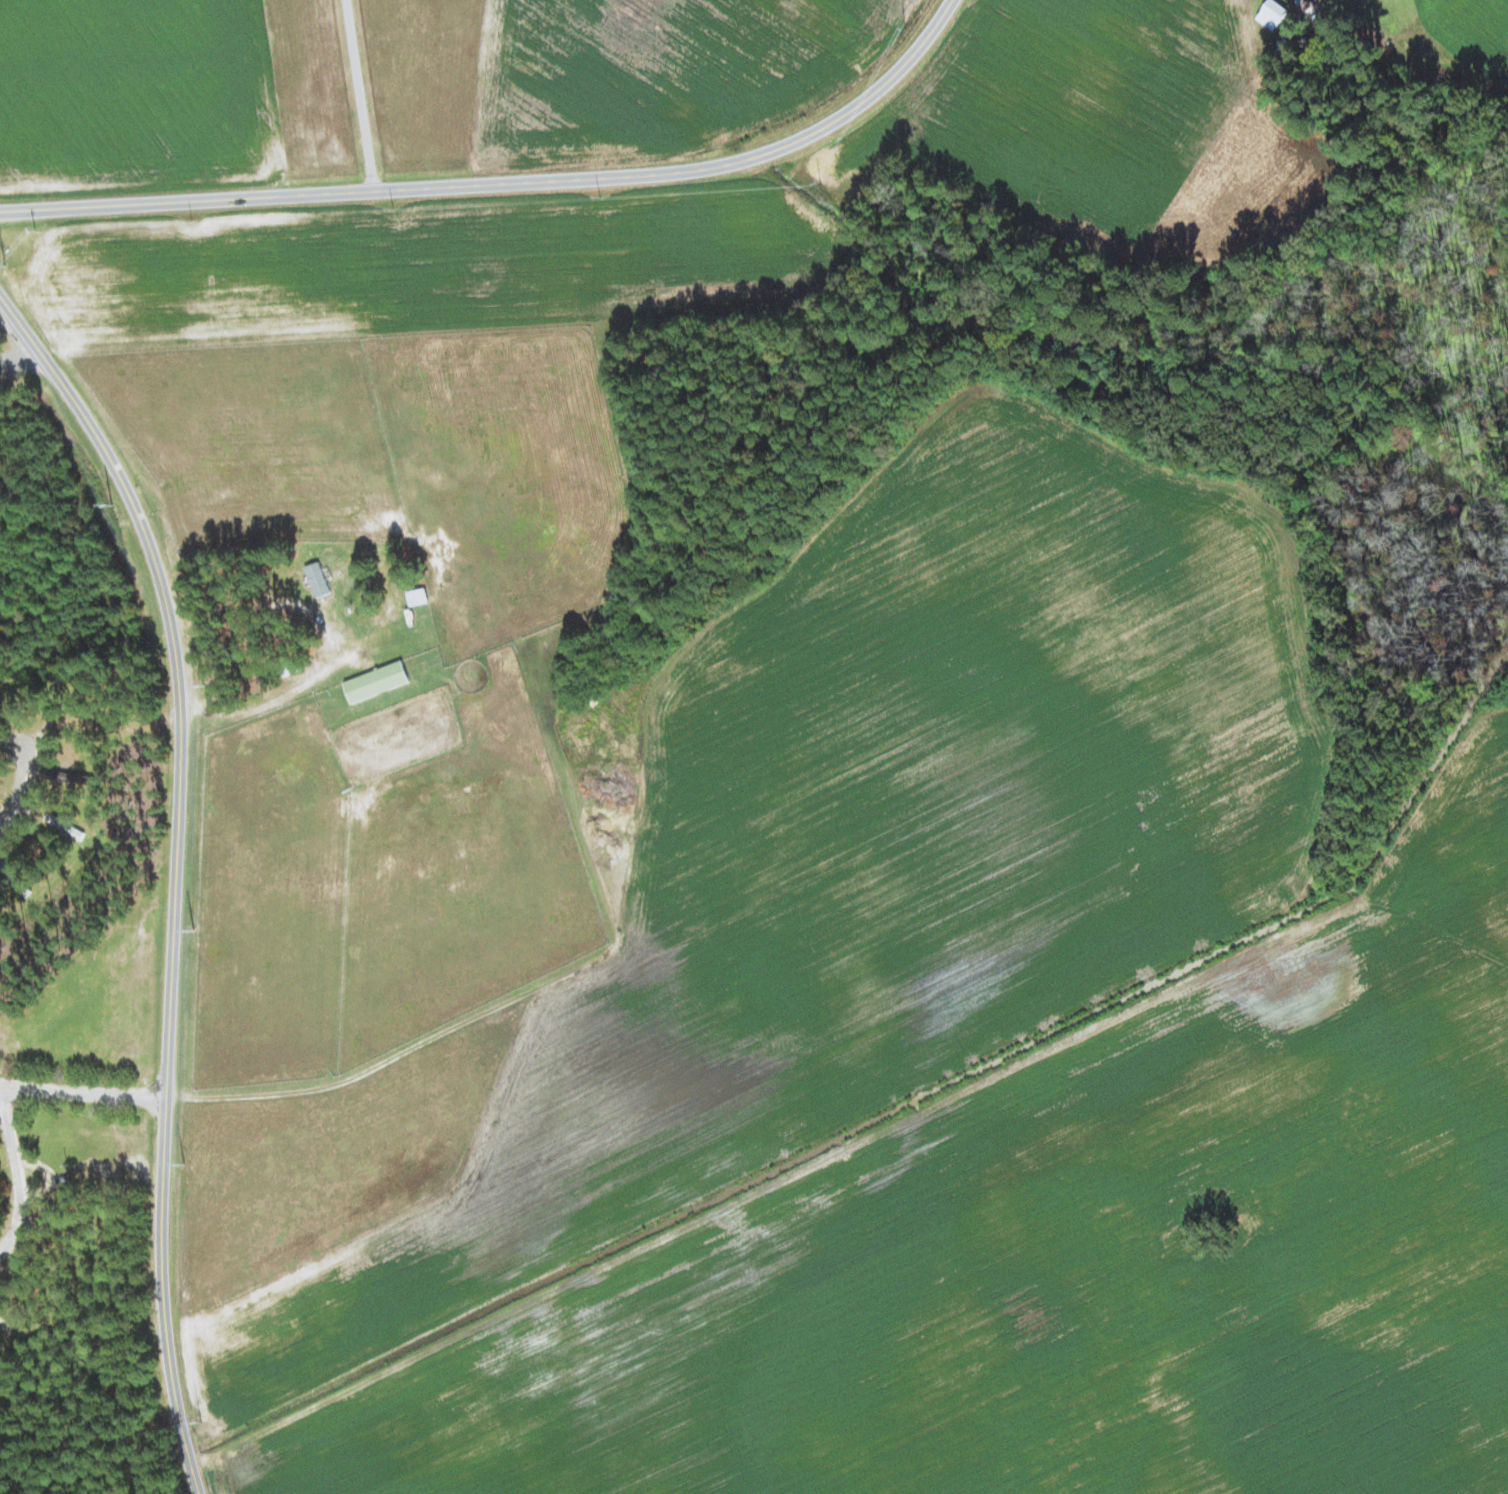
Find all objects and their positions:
building: (1272, 14)
road: (360, 94)
road: (506, 181)
building: (317, 579)
building: (417, 596)
building: (376, 681)
building: (64, 776)
road: (19, 788)
road: (175, 874)
building: (15, 878)
road: (83, 1093)
road: (18, 1170)

